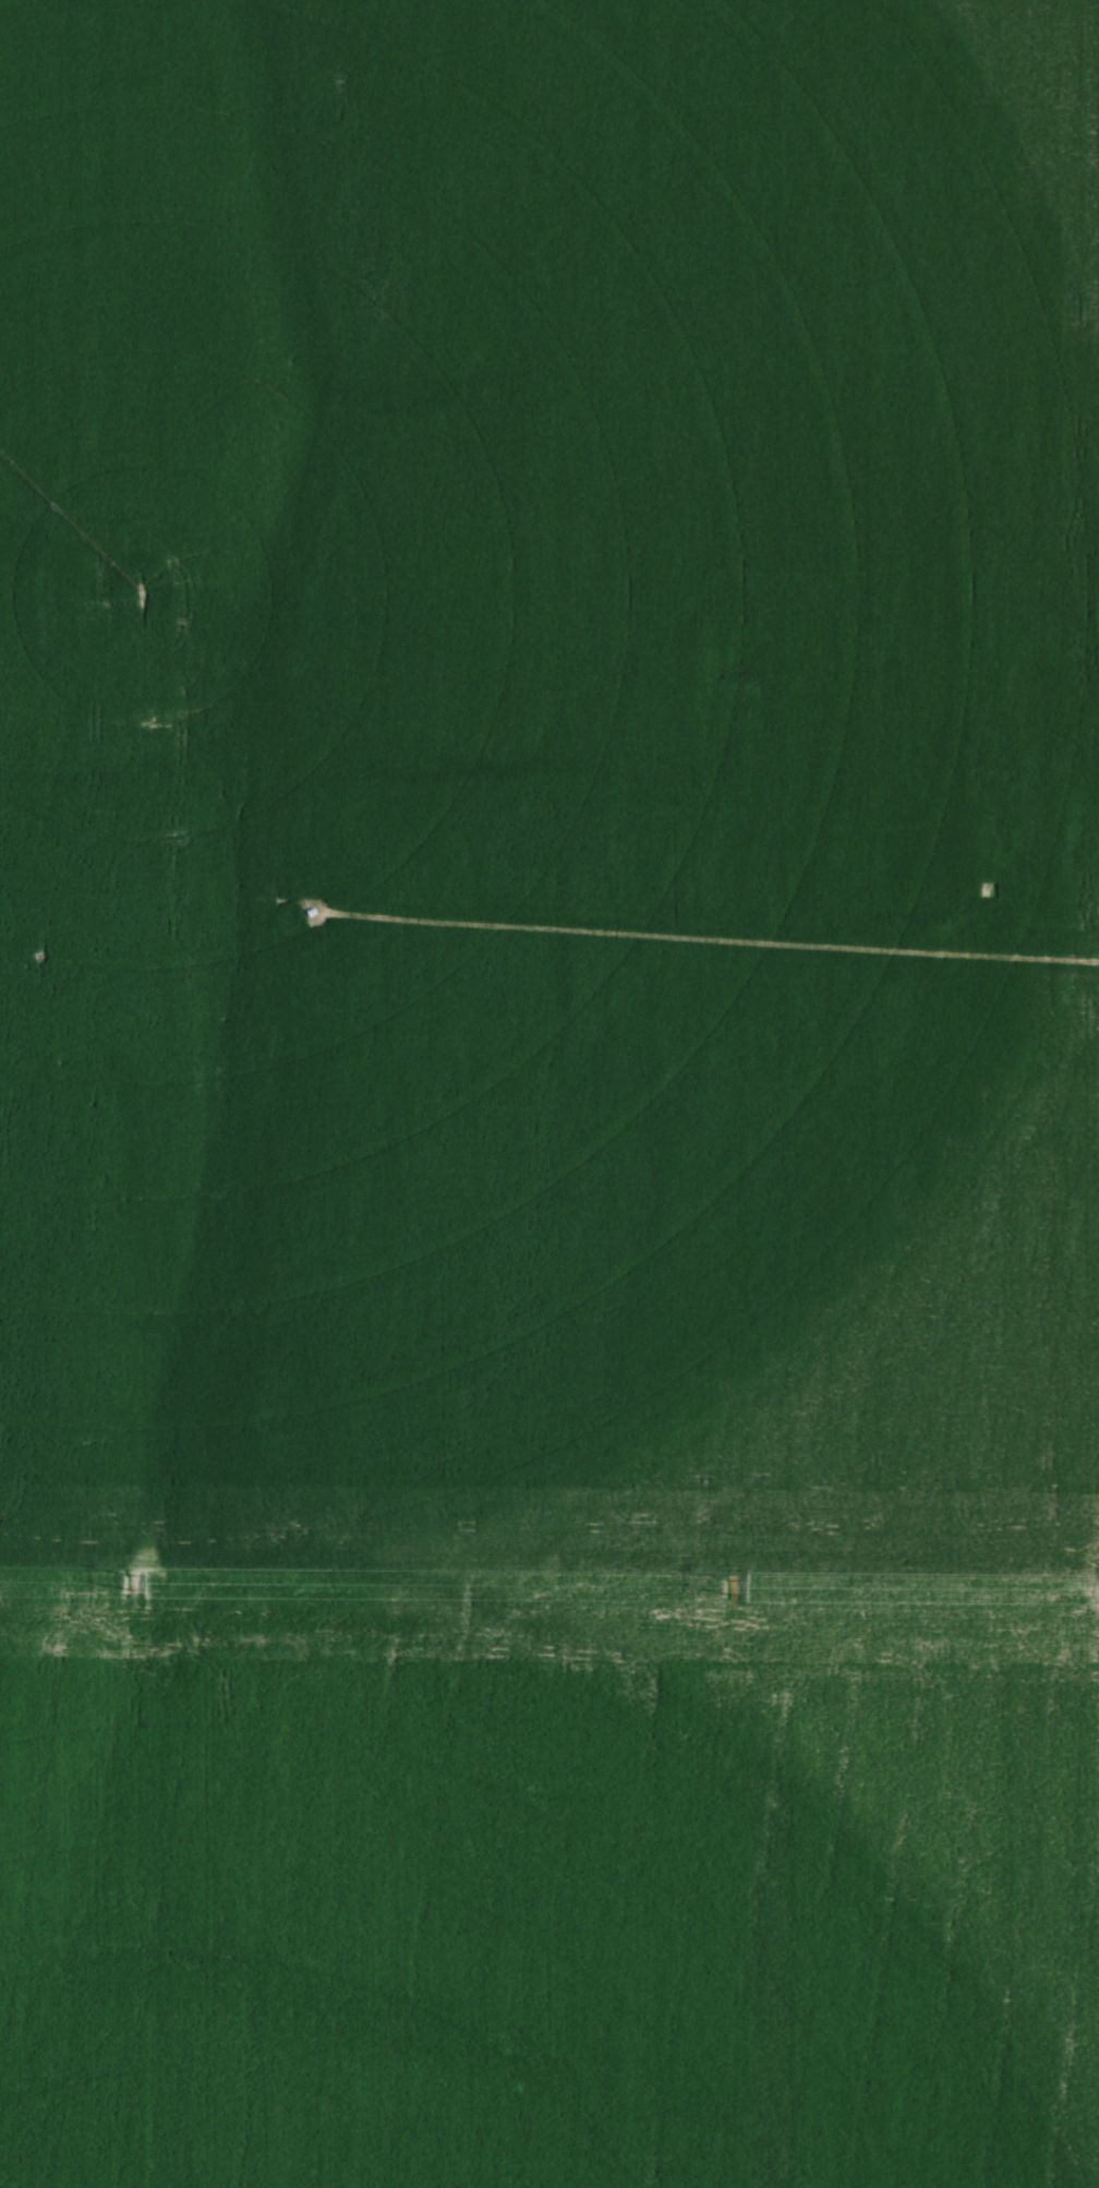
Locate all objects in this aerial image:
power tower: (129, 1582)
power tower: (728, 1587)

